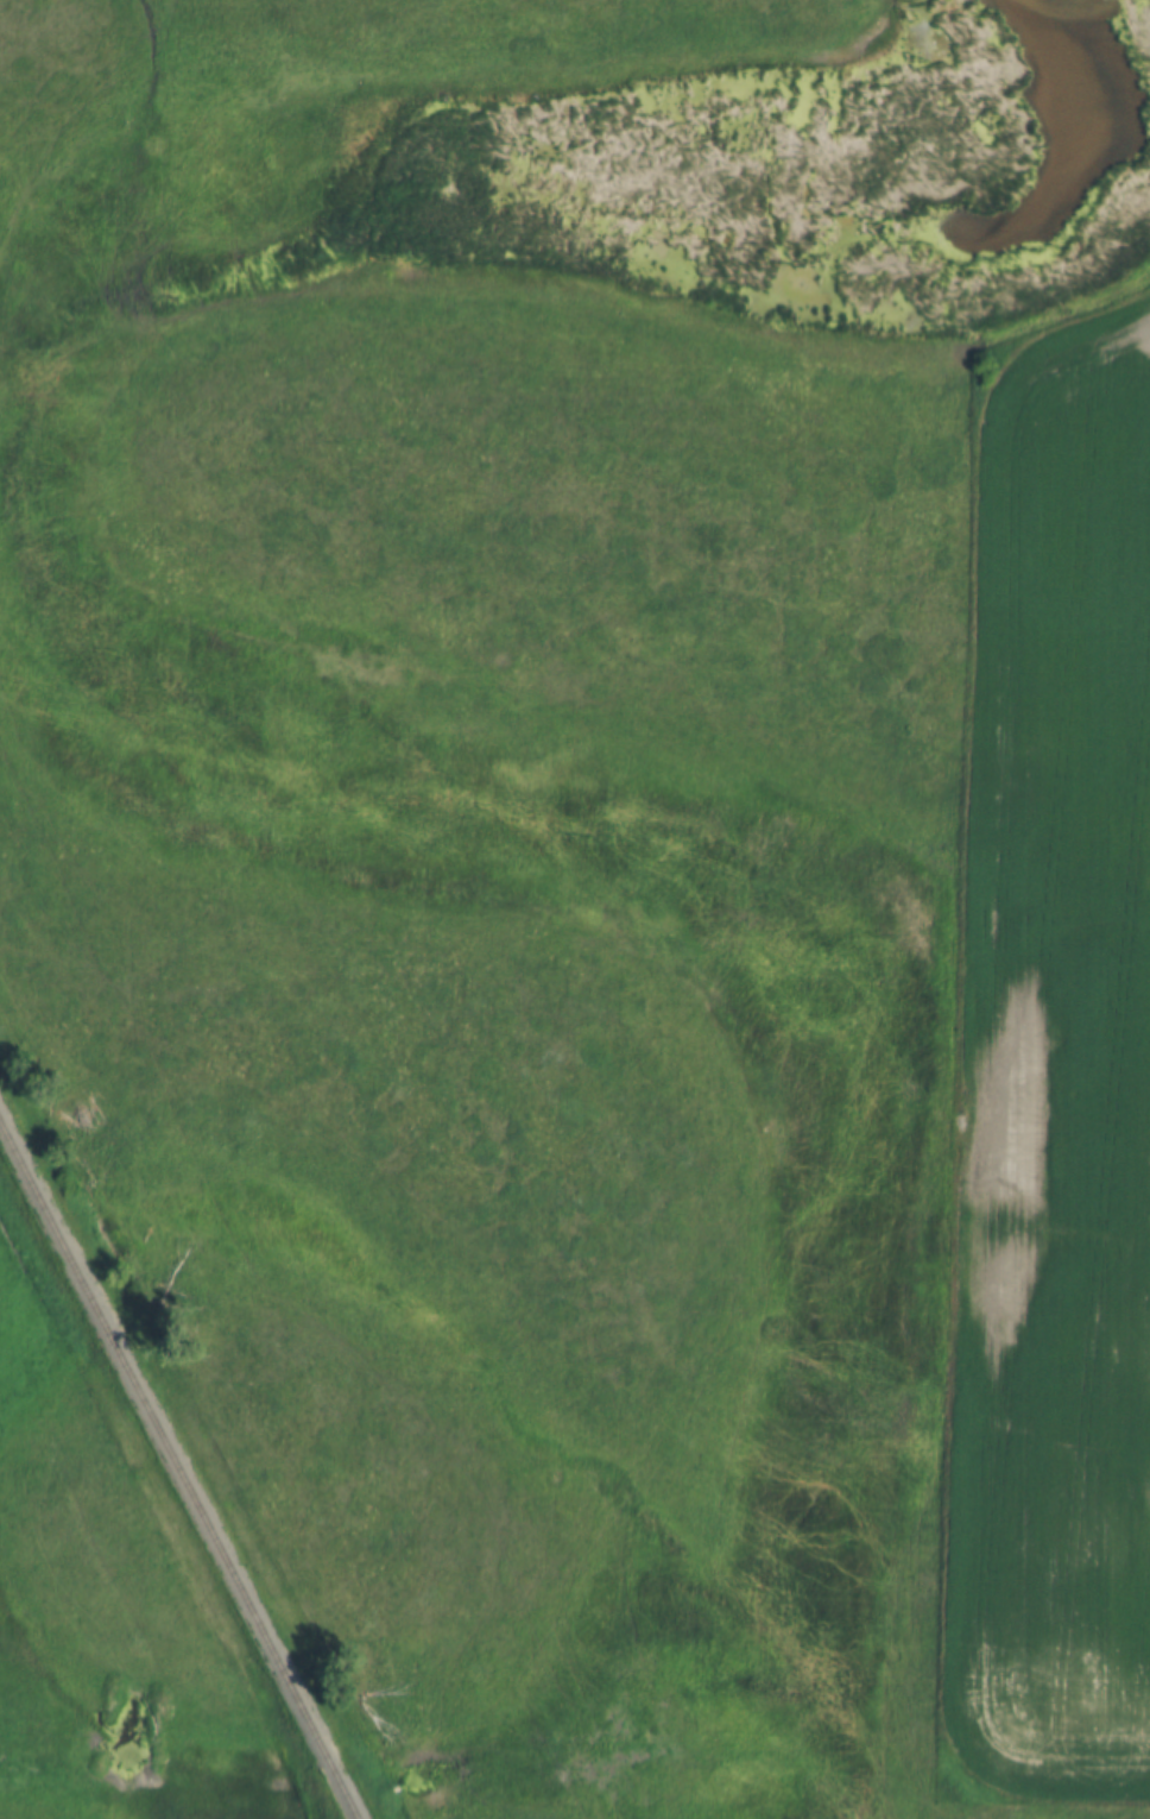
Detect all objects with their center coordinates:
railway: (178, 1469)

